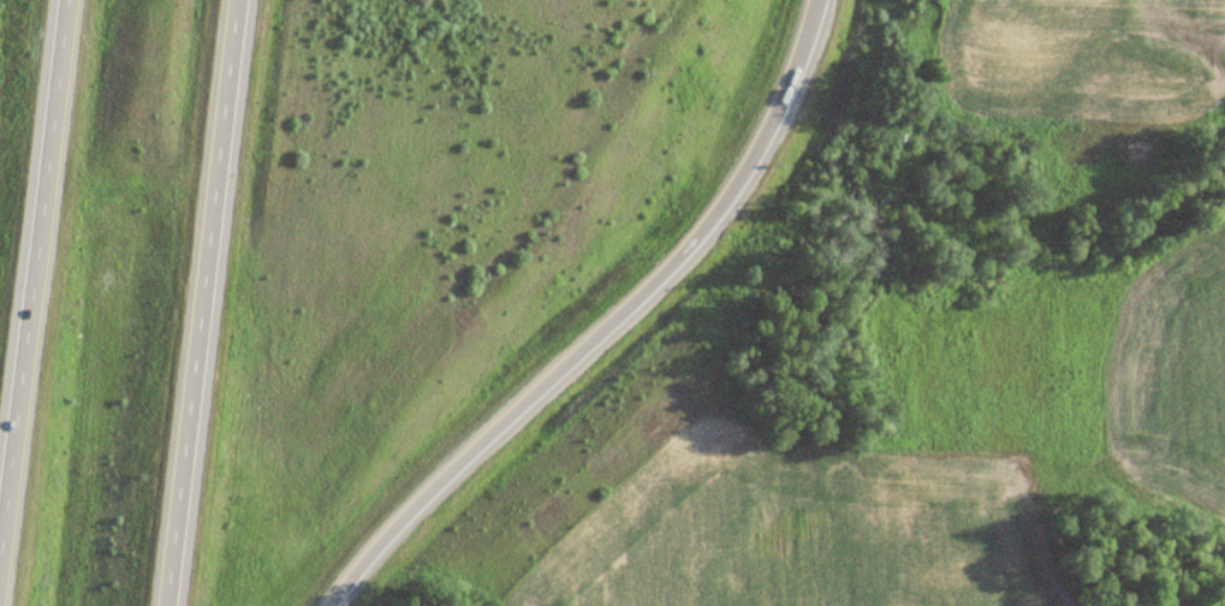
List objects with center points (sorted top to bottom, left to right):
road: (31, 273)
road: (200, 303)
road: (601, 325)

